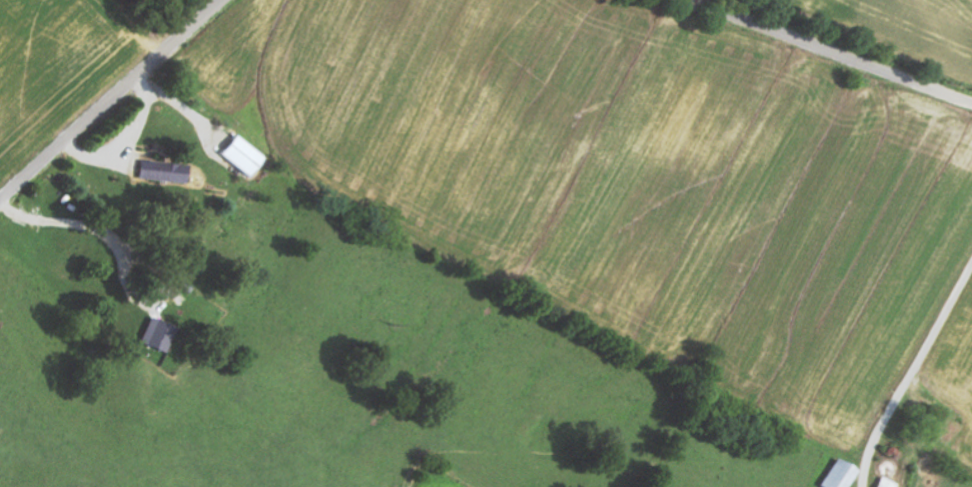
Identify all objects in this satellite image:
road: (832, 53)
road: (112, 101)
building: (247, 156)
building: (165, 173)
building: (161, 334)
building: (888, 483)

